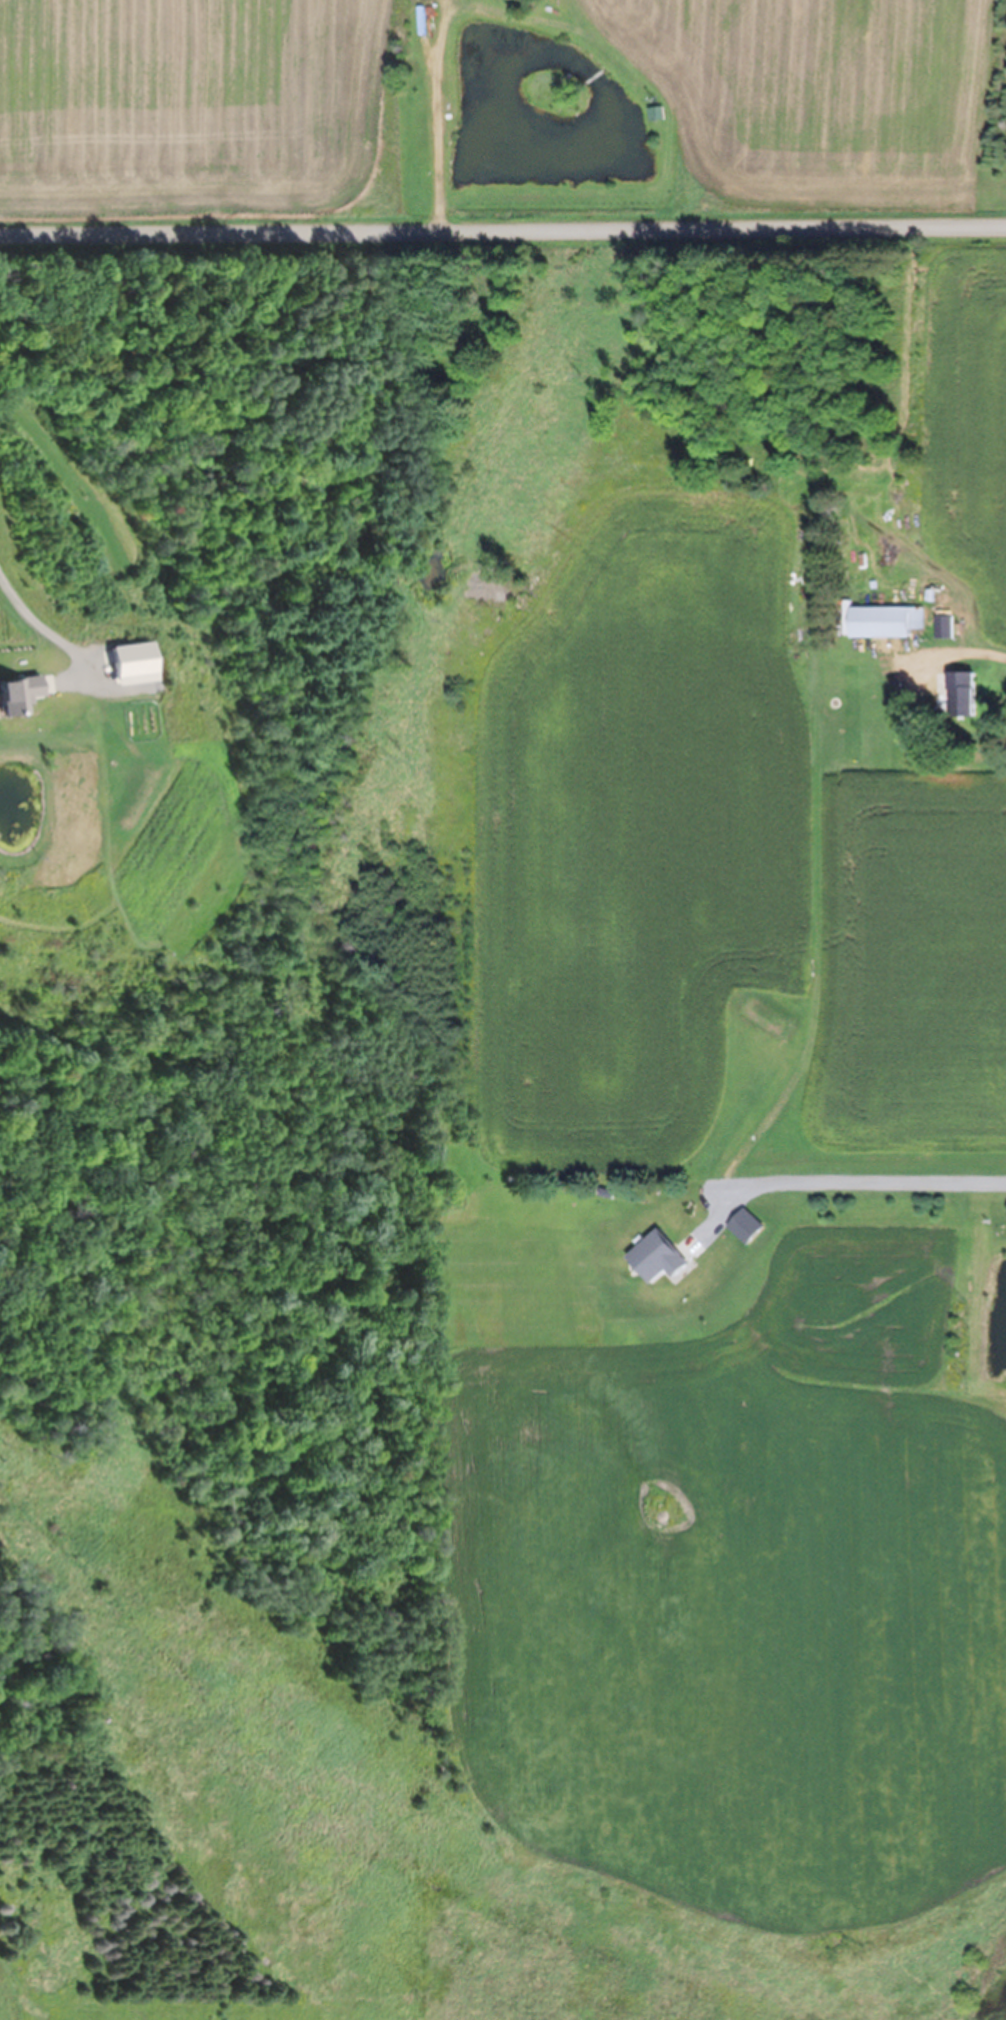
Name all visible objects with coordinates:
road: (503, 232)
road: (118, 617)
building: (883, 621)
building: (945, 626)
building: (952, 689)
building: (78, 774)
building: (653, 1257)

